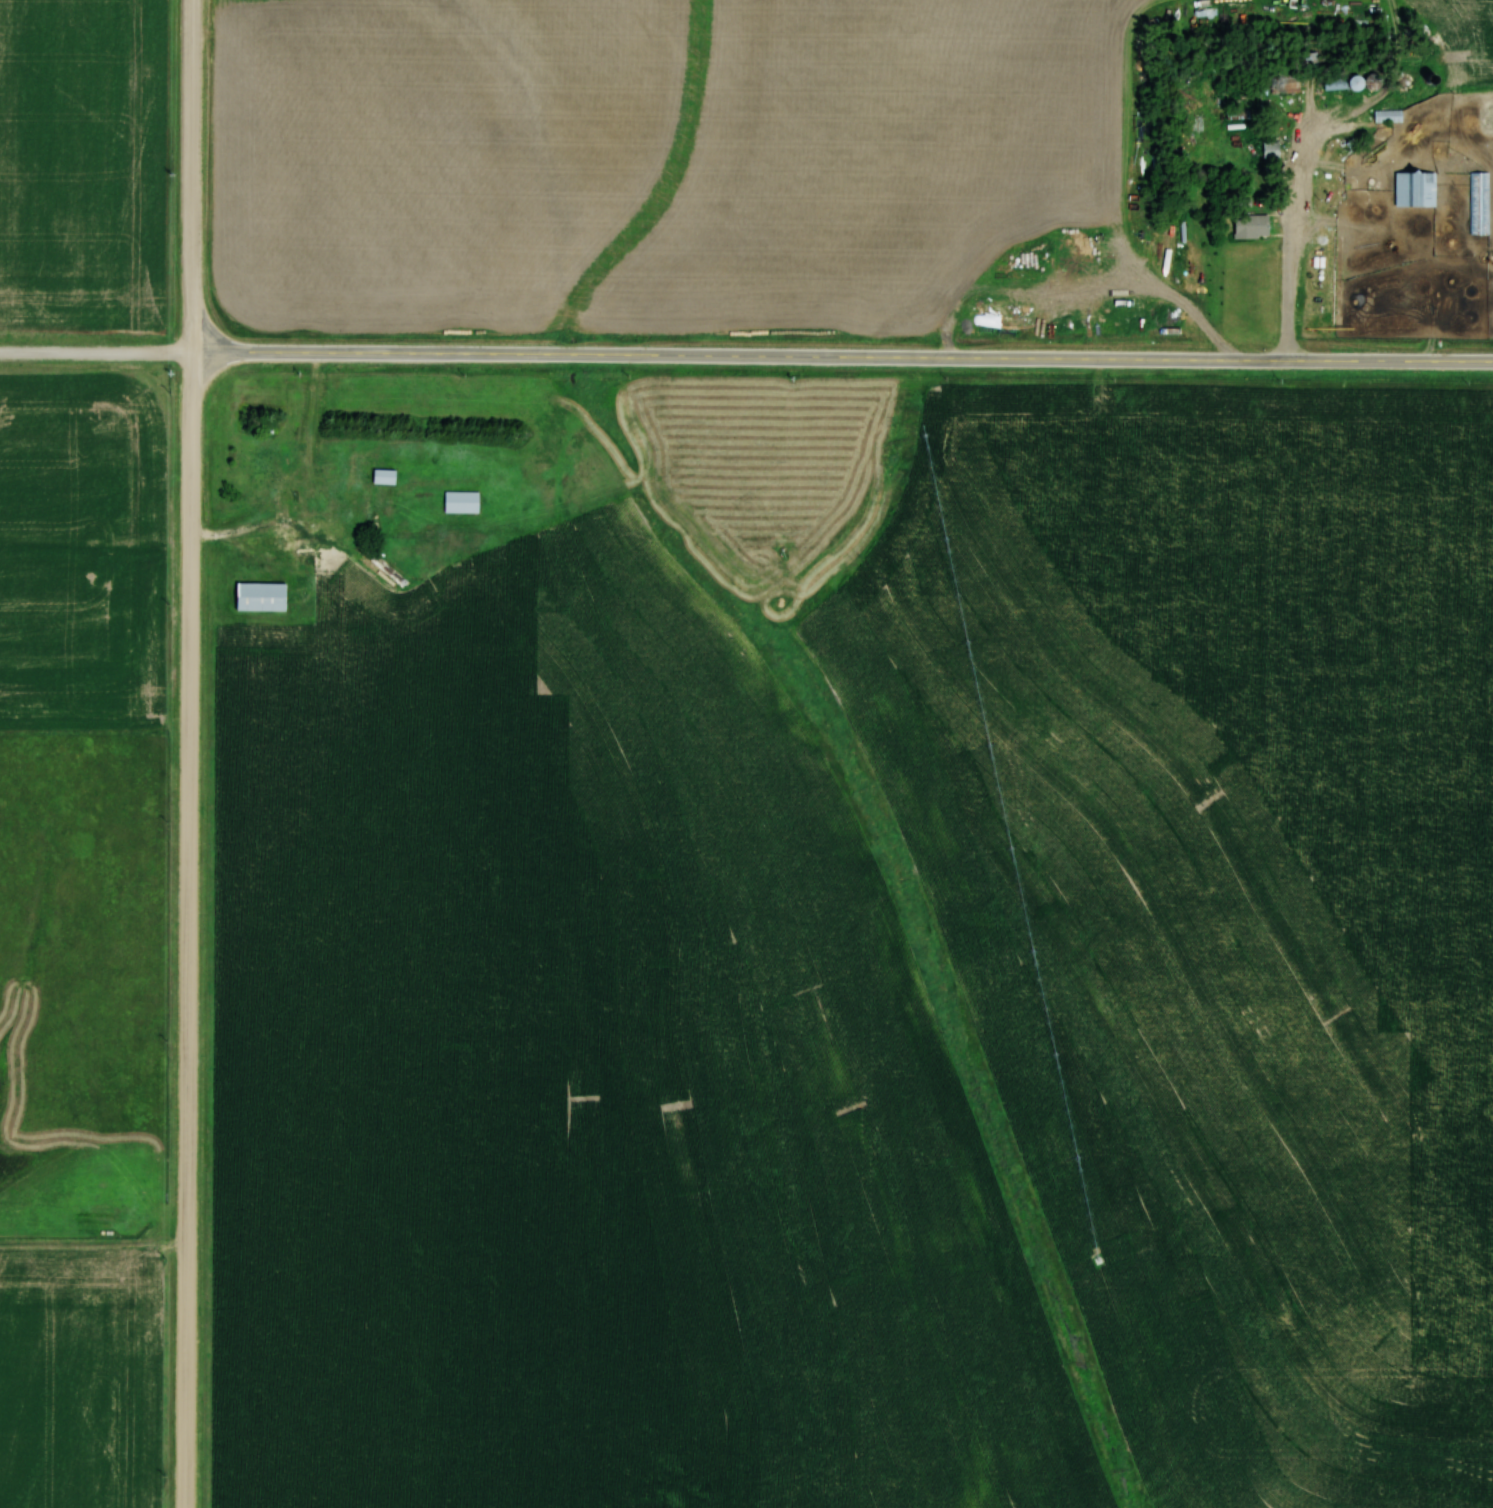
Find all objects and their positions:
building: (1339, 81)
building: (1402, 81)
building: (1288, 82)
building: (1387, 115)
building: (1270, 148)
building: (1414, 188)
building: (1480, 202)
building: (1249, 226)
road: (99, 348)
road: (845, 352)
building: (383, 474)
building: (461, 500)
building: (280, 538)
building: (259, 595)
road: (195, 754)

